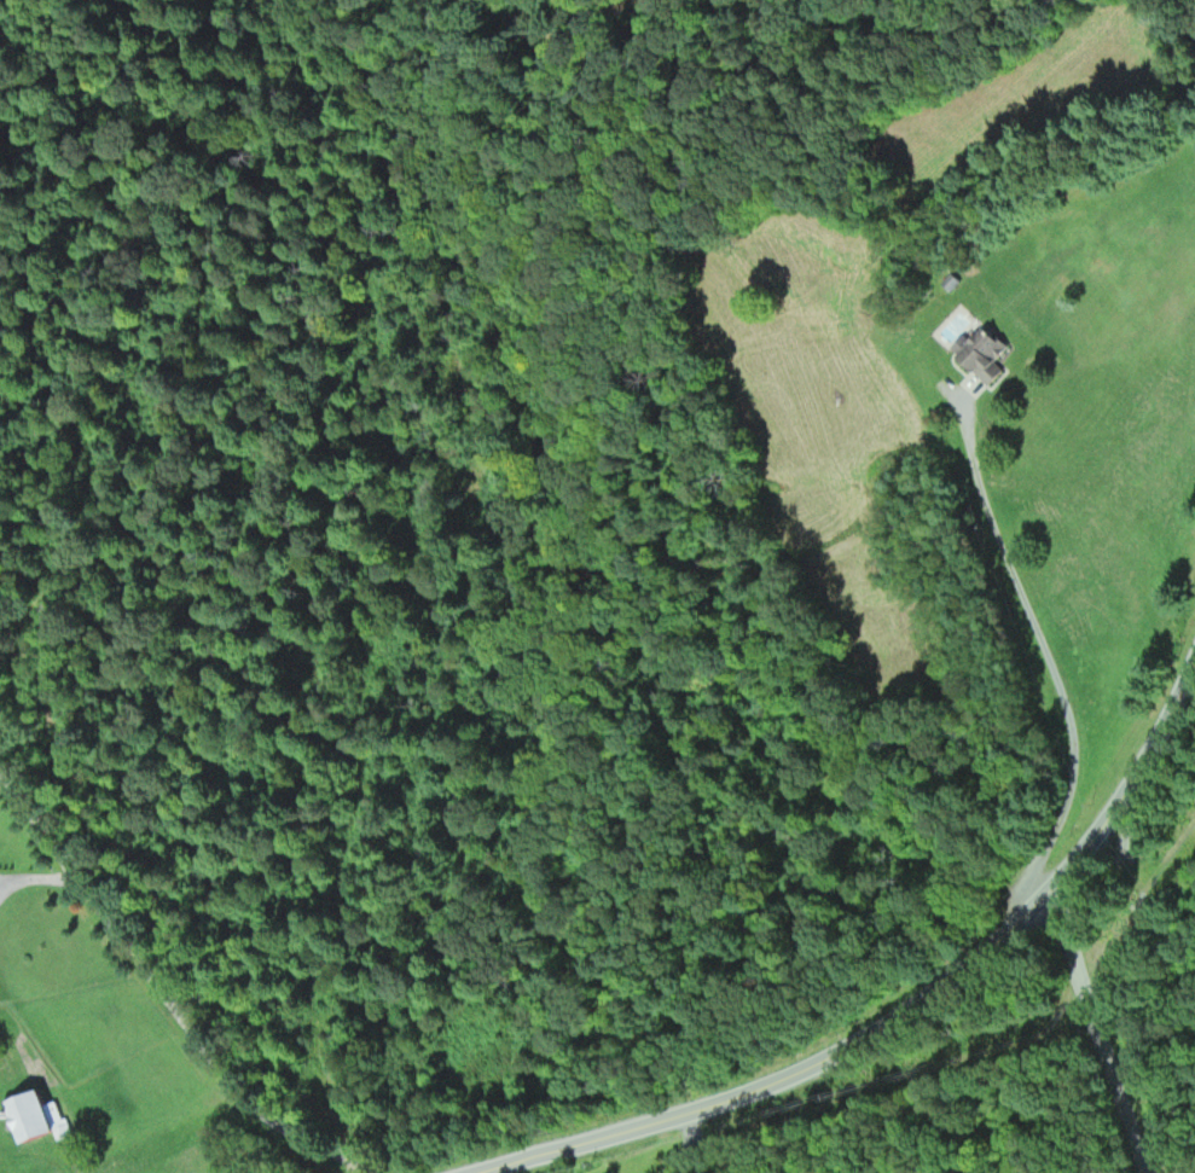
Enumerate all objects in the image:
building: (984, 353)
road: (163, 994)
road: (903, 1012)
building: (39, 1119)

